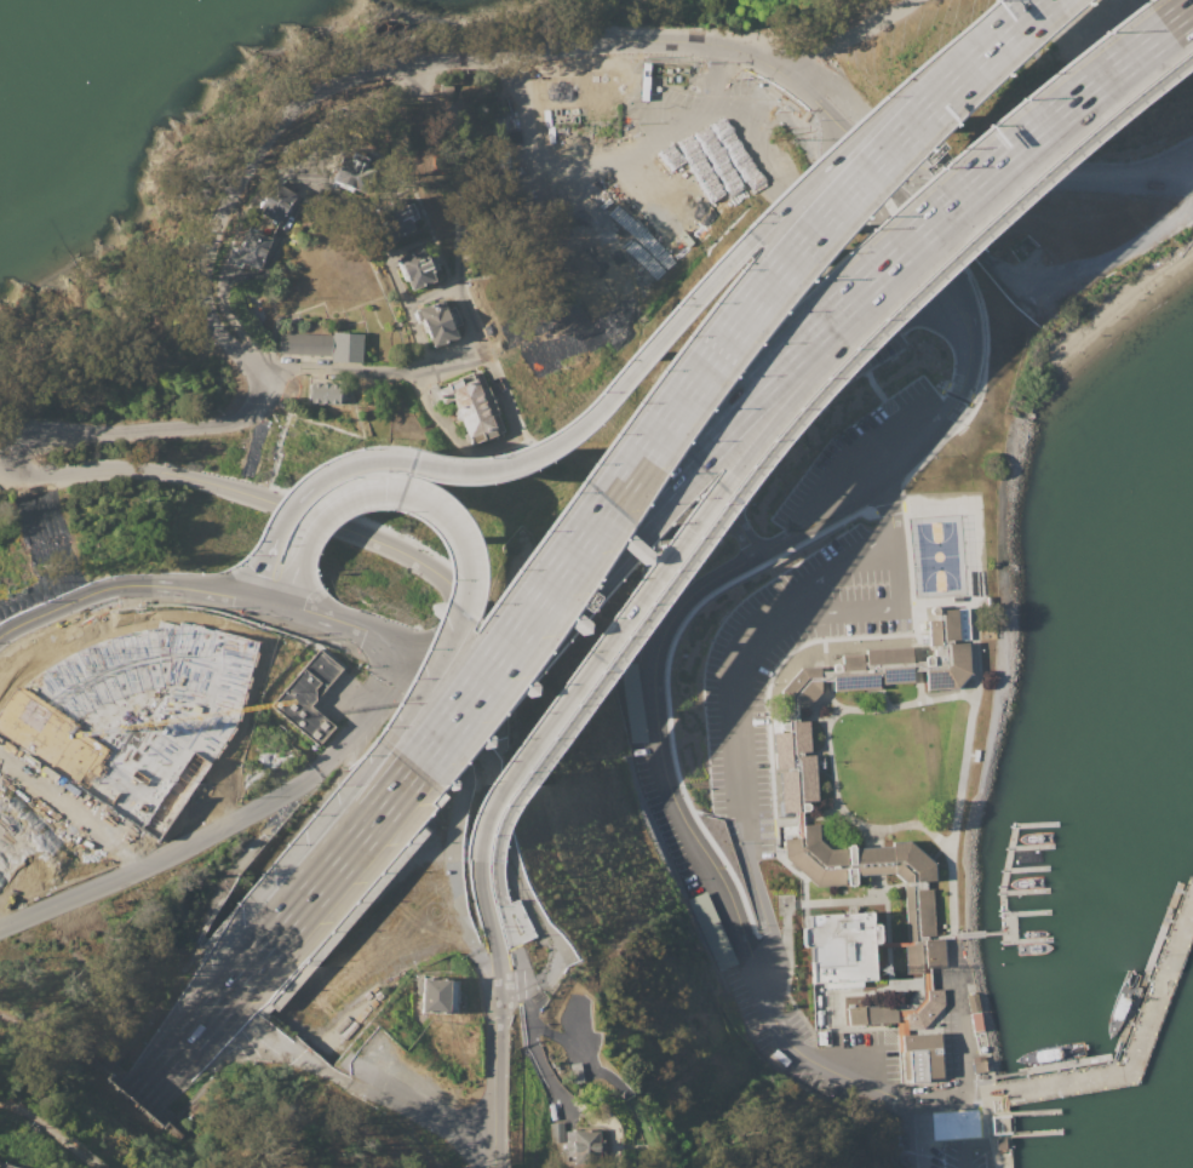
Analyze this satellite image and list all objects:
road: (1017, 16)
storage tank: (378, 27)
storage tank: (396, 29)
road: (845, 36)
road: (383, 70)
road: (512, 71)
road: (838, 104)
park: (644, 165)
building: (357, 173)
road: (1039, 173)
parking lot: (1101, 174)
road: (855, 183)
building: (277, 204)
road: (289, 210)
building: (402, 217)
road: (935, 230)
road: (906, 247)
building: (253, 248)
building: (934, 257)
building: (424, 268)
road: (431, 293)
road: (469, 311)
building: (436, 321)
road: (415, 334)
building: (304, 343)
building: (348, 348)
road: (637, 359)
road: (779, 361)
road: (879, 380)
road: (983, 389)
building: (322, 393)
road: (809, 396)
building: (468, 406)
road: (340, 430)
road: (784, 439)
road: (8, 446)
road: (493, 446)
road: (529, 446)
road: (275, 453)
parking lot: (868, 454)
road: (629, 465)
traffic signals: (379, 492)
road: (889, 509)
road: (314, 525)
road: (401, 537)
road: (683, 537)
road: (395, 551)
park: (936, 555)
road: (906, 578)
road: (130, 585)
road: (263, 595)
road: (275, 599)
road: (973, 603)
road: (873, 607)
road: (344, 630)
road: (914, 647)
road: (441, 654)
road: (822, 654)
road: (971, 674)
road: (667, 676)
road: (917, 685)
road: (419, 693)
parking lot: (733, 694)
road: (826, 695)
building: (304, 697)
power substation: (304, 697)
road: (881, 697)
road: (860, 698)
building: (635, 702)
road: (815, 702)
road: (733, 705)
road: (658, 711)
building: (136, 712)
road: (811, 715)
road: (765, 726)
road: (816, 749)
road: (825, 750)
road: (335, 751)
road: (959, 772)
road: (820, 815)
road: (784, 819)
parking lot: (665, 820)
building: (798, 821)
pier: (1034, 823)
road: (501, 828)
road: (820, 829)
road: (851, 835)
pier: (1029, 844)
road: (878, 846)
pier: (1004, 866)
pier: (1025, 868)
pier: (1022, 892)
road: (887, 897)
road: (884, 899)
pier: (1031, 911)
road: (791, 914)
building: (707, 926)
pier: (1005, 927)
road: (993, 931)
road: (487, 932)
road: (275, 933)
pier: (968, 933)
pier: (1032, 939)
road: (894, 943)
road: (511, 945)
building: (839, 946)
pier: (1002, 952)
pier: (1026, 961)
pier: (1145, 966)
road: (786, 975)
building: (432, 995)
pier: (1155, 995)
road: (919, 1000)
building: (973, 1002)
road: (207, 1007)
road: (839, 1010)
building: (856, 1015)
road: (957, 1018)
building: (976, 1021)
road: (550, 1032)
parking lot: (779, 1036)
parking lot: (948, 1041)
building: (981, 1043)
parking lot: (866, 1049)
road: (1114, 1052)
road: (856, 1053)
building: (920, 1055)
pier: (1062, 1063)
building: (977, 1064)
road: (546, 1071)
building: (581, 1071)
road: (1006, 1072)
road: (500, 1086)
pier: (1032, 1111)
road: (603, 1118)
building: (561, 1127)
road: (960, 1132)
road: (50, 1133)
road: (914, 1133)
pier: (1033, 1133)
pier: (1008, 1135)
road: (985, 1139)
building: (1003, 1143)
building: (587, 1146)
parking lot: (963, 1151)
building: (5, 1166)

